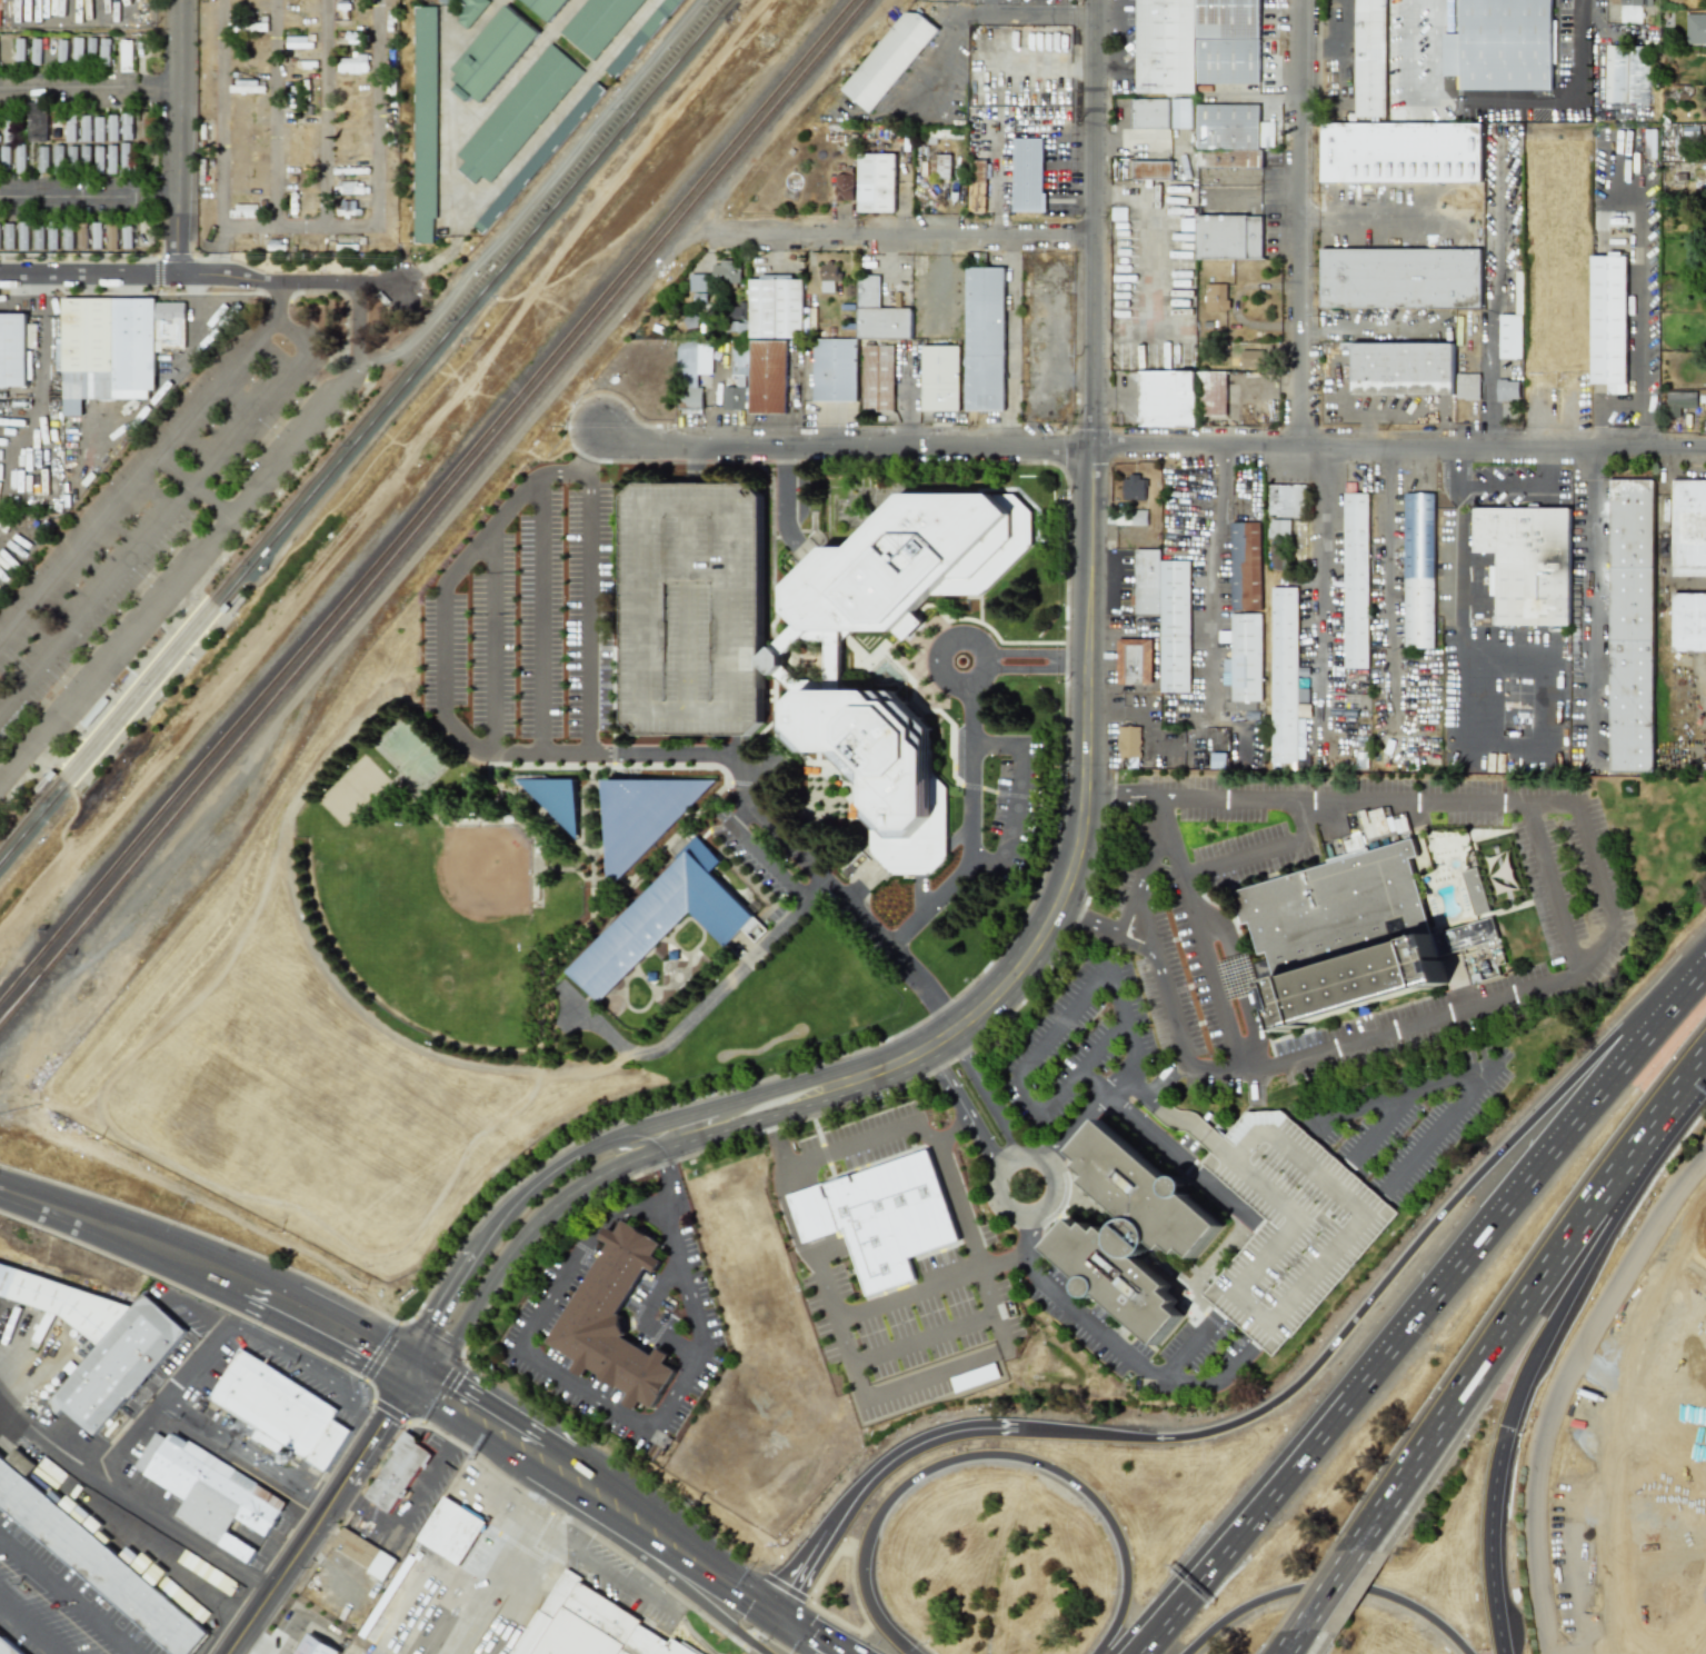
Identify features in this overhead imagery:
building: (546, 8)
building: (1632, 11)
building: (469, 12)
road: (1034, 16)
building: (598, 23)
building: (1695, 28)
building: (641, 37)
building: (1228, 41)
building: (296, 42)
building: (1503, 44)
building: (90, 47)
building: (19, 49)
building: (77, 49)
building: (61, 50)
road: (1434, 50)
building: (34, 51)
building: (103, 51)
building: (492, 53)
building: (124, 56)
building: (1370, 58)
parking lot: (1338, 60)
building: (892, 61)
building: (351, 64)
building: (1626, 73)
road: (1407, 74)
building: (241, 87)
road: (90, 88)
road: (1574, 103)
building: (247, 108)
road: (225, 112)
road: (277, 112)
road: (329, 112)
building: (517, 113)
building: (1150, 113)
building: (1180, 113)
building: (36, 121)
building: (426, 123)
building: (1227, 126)
building: (126, 127)
building: (84, 128)
building: (111, 128)
building: (342, 128)
building: (70, 129)
building: (98, 129)
building: (1267, 134)
road: (178, 137)
building: (1650, 137)
building: (299, 142)
building: (341, 148)
building: (1400, 151)
building: (84, 155)
building: (71, 156)
building: (124, 156)
building: (4, 157)
building: (20, 158)
building: (58, 158)
building: (538, 158)
building: (42, 159)
building: (98, 159)
building: (111, 159)
building: (942, 166)
building: (247, 169)
building: (1151, 169)
building: (349, 170)
building: (978, 170)
building: (1031, 177)
building: (879, 183)
building: (849, 186)
road: (378, 187)
building: (350, 188)
building: (243, 189)
road: (1453, 196)
road: (87, 197)
building: (1602, 199)
building: (243, 210)
parking lot: (1401, 216)
road: (1299, 222)
road: (906, 233)
building: (81, 235)
building: (9, 236)
building: (23, 236)
building: (51, 236)
building: (67, 236)
building: (96, 236)
building: (111, 236)
building: (38, 237)
building: (126, 237)
building: (1229, 237)
road: (217, 249)
road: (201, 273)
building: (730, 273)
building: (831, 278)
building: (1401, 278)
building: (704, 283)
building: (852, 291)
building: (1519, 292)
building: (1216, 297)
road: (280, 298)
building: (702, 299)
building: (778, 308)
building: (736, 310)
road: (1637, 312)
building: (881, 313)
building: (1608, 321)
building: (730, 328)
road: (359, 330)
building: (814, 333)
building: (1510, 336)
building: (987, 339)
building: (116, 347)
building: (16, 349)
road: (187, 357)
building: (1251, 358)
building: (741, 359)
building: (695, 362)
building: (1404, 368)
building: (837, 371)
railway: (539, 373)
building: (769, 378)
building: (942, 378)
building: (880, 379)
road: (1488, 380)
building: (741, 382)
building: (1468, 386)
building: (1508, 390)
building: (1179, 396)
building: (736, 399)
building: (692, 401)
building: (1678, 401)
railway: (361, 424)
railway: (368, 431)
road: (1153, 444)
road: (845, 461)
road: (398, 480)
road: (138, 484)
road: (1524, 485)
road: (198, 487)
building: (1134, 487)
road: (787, 491)
building: (1288, 499)
railway: (433, 514)
road: (503, 516)
building: (1129, 517)
road: (169, 518)
parking lot: (160, 527)
building: (1279, 528)
building: (1689, 528)
building: (1278, 555)
building: (1528, 561)
building: (1246, 565)
building: (1419, 569)
building: (908, 570)
road: (1219, 576)
building: (1147, 580)
building: (1357, 580)
road: (177, 586)
road: (1388, 587)
road: (1323, 591)
railway: (206, 594)
road: (1592, 598)
road: (1461, 602)
parking lot: (561, 605)
building: (225, 606)
road: (586, 607)
building: (696, 609)
parking garage: (696, 609)
road: (539, 614)
building: (1688, 622)
building: (1175, 626)
building: (1630, 626)
road: (488, 642)
road: (439, 651)
building: (1246, 656)
road: (982, 659)
building: (1134, 660)
road: (1018, 667)
building: (1285, 675)
road: (1552, 699)
road: (1087, 705)
building: (94, 710)
road: (968, 726)
road: (1694, 727)
building: (1128, 741)
road: (1151, 746)
park: (412, 755)
building: (1246, 761)
road: (742, 773)
building: (50, 774)
road: (1138, 789)
road: (1012, 790)
railway: (81, 794)
road: (1101, 795)
road: (1137, 799)
building: (559, 800)
building: (646, 818)
road: (81, 838)
road: (1258, 849)
road: (767, 857)
road: (1144, 867)
railway: (109, 875)
road: (1603, 875)
building: (1475, 888)
building: (662, 919)
road: (1143, 921)
building: (1339, 929)
building: (1464, 934)
road: (1109, 947)
road: (1201, 949)
road: (1116, 980)
parking lot: (1186, 980)
road: (1239, 985)
road: (1534, 986)
railway: (23, 998)
road: (698, 1006)
road: (1060, 1016)
road: (1105, 1035)
parking lot: (1188, 1044)
road: (1479, 1064)
road: (1161, 1073)
road: (1109, 1086)
road: (1254, 1088)
road: (984, 1093)
road: (1045, 1105)
road: (965, 1106)
road: (1672, 1107)
road: (1176, 1118)
road: (1303, 1124)
road: (1383, 1124)
road: (602, 1125)
road: (952, 1125)
road: (922, 1132)
road: (771, 1137)
road: (1166, 1143)
road: (626, 1144)
road: (1041, 1155)
road: (669, 1177)
road: (538, 1185)
road: (1514, 1210)
road: (788, 1215)
building: (879, 1215)
parking lot: (1298, 1217)
building: (1283, 1218)
parking lot: (1283, 1218)
road: (1255, 1222)
road: (1682, 1235)
building: (1130, 1236)
road: (520, 1240)
road: (197, 1262)
road: (1400, 1267)
road: (931, 1283)
road: (1570, 1287)
road: (1293, 1292)
building: (64, 1303)
road: (448, 1303)
road: (1073, 1308)
road: (1217, 1315)
building: (618, 1321)
road: (642, 1321)
road: (941, 1327)
road: (997, 1342)
road: (1188, 1347)
road: (1494, 1352)
road: (401, 1357)
traffic signals: (416, 1358)
road: (200, 1363)
road: (426, 1365)
building: (120, 1366)
road: (393, 1368)
road: (313, 1369)
road: (408, 1369)
traffic signals: (437, 1372)
traffic signals: (400, 1382)
road: (1217, 1382)
road: (428, 1384)
road: (1562, 1384)
road: (860, 1385)
road: (410, 1389)
road: (581, 1389)
road: (398, 1393)
road: (632, 1394)
traffic signals: (420, 1397)
road: (408, 1401)
road: (172, 1404)
road: (654, 1411)
building: (283, 1412)
road: (506, 1413)
road: (471, 1434)
road: (58, 1442)
road: (915, 1448)
road: (245, 1451)
road: (990, 1455)
building: (400, 1474)
road: (626, 1491)
building: (212, 1494)
road: (570, 1499)
road: (320, 1501)
road: (148, 1509)
road: (570, 1523)
road: (315, 1530)
building: (458, 1534)
road: (1489, 1538)
building: (422, 1547)
road: (1224, 1547)
road: (1239, 1547)
building: (359, 1548)
road: (501, 1548)
building: (94, 1560)
road: (599, 1565)
building: (385, 1566)
road: (805, 1568)
road: (726, 1570)
parking lot: (607, 1573)
road: (696, 1573)
road: (646, 1576)
building: (160, 1582)
road: (1330, 1586)
road: (1327, 1592)
road: (689, 1593)
road: (68, 1596)
road: (467, 1605)
traffic signals: (780, 1608)
road: (777, 1614)
road: (511, 1616)
road: (795, 1617)
traffic signals: (774, 1621)
building: (592, 1625)
road: (28, 1628)
building: (376, 1628)
road: (798, 1637)
road: (697, 1638)
road: (837, 1640)
road: (828, 1641)
road: (1294, 1642)
building: (8, 1646)
building: (319, 1646)

